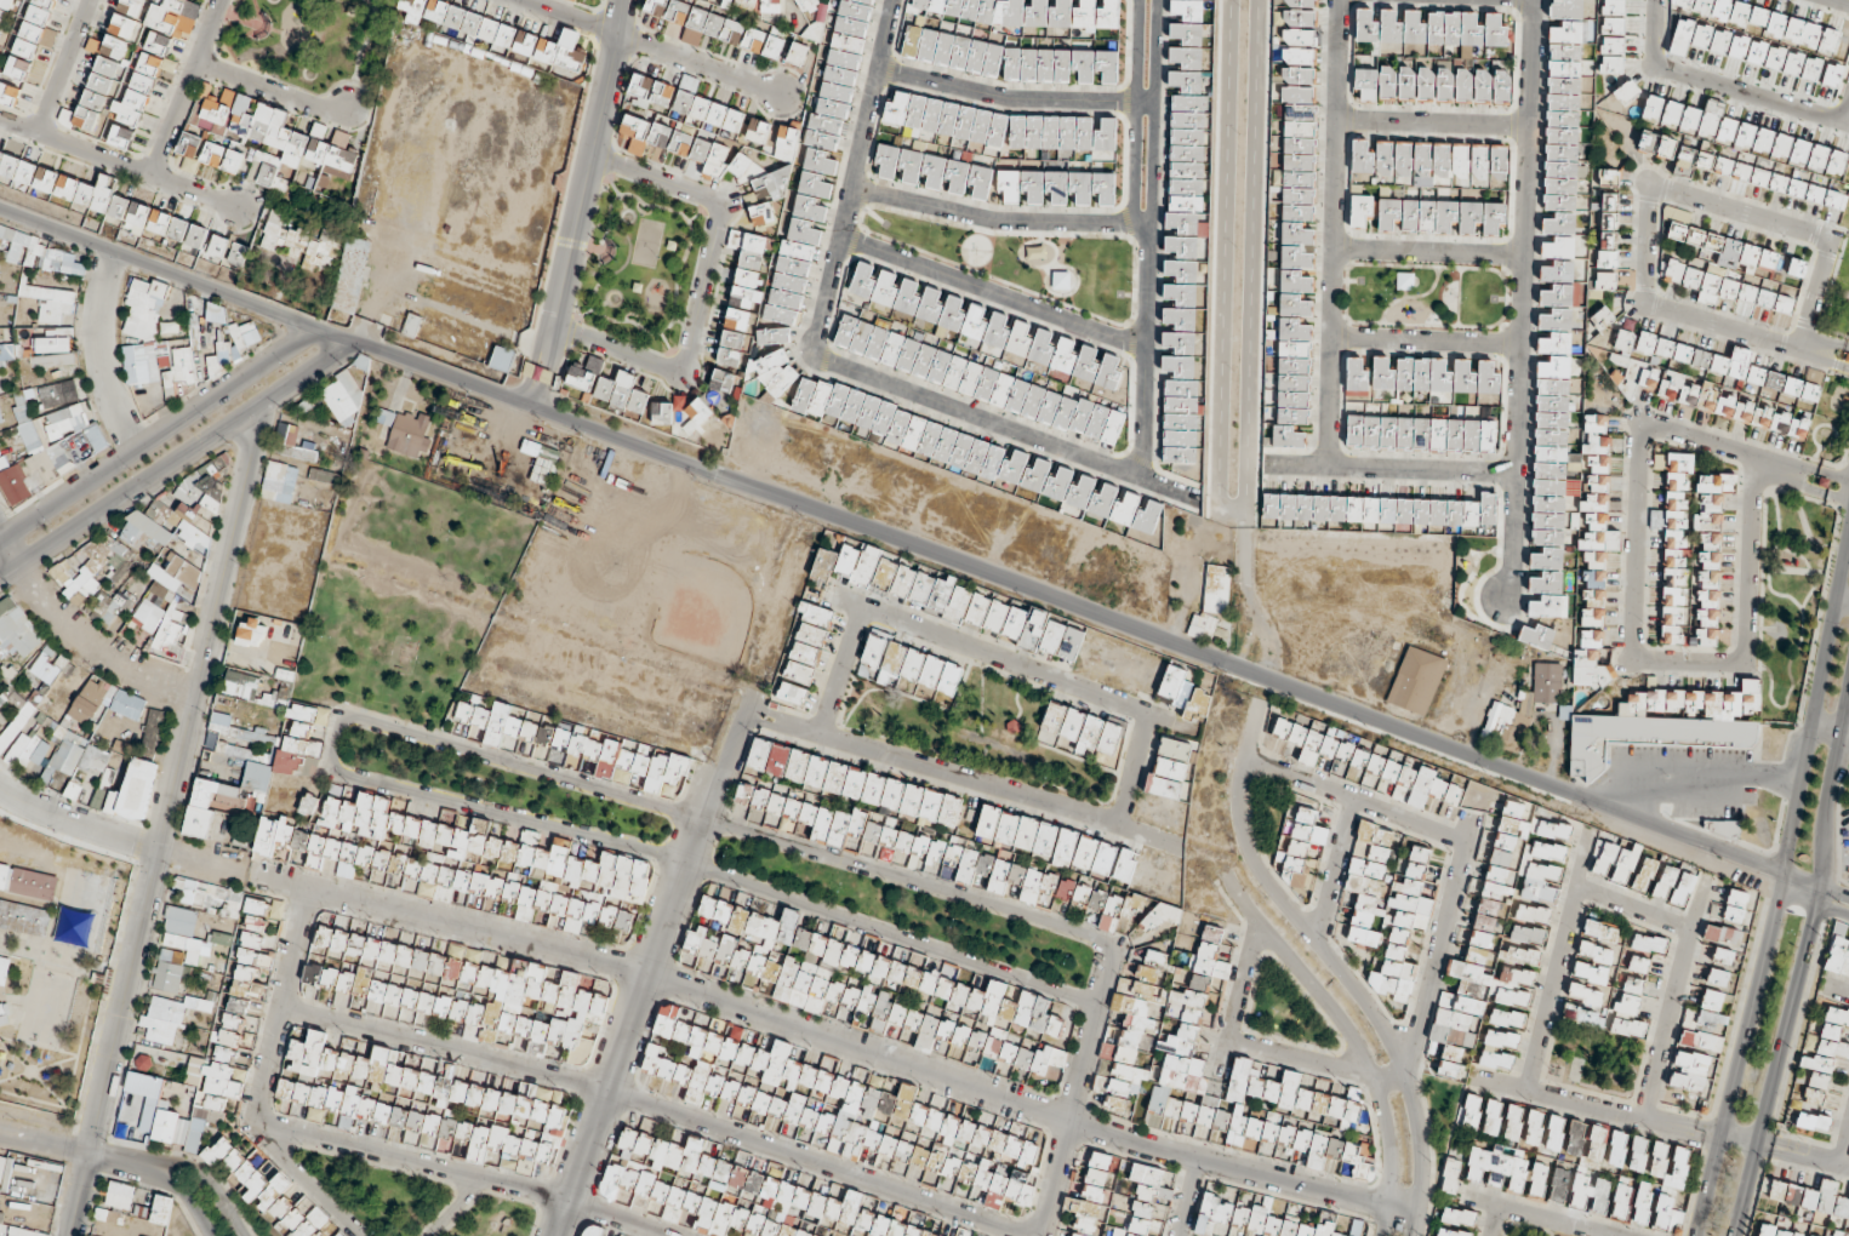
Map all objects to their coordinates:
park: (1838, 284)
park: (1425, 291)
park: (1788, 595)
park: (976, 731)
parking lot: (1680, 779)
park: (1844, 825)
park: (1592, 1059)
park: (1529, 1229)

